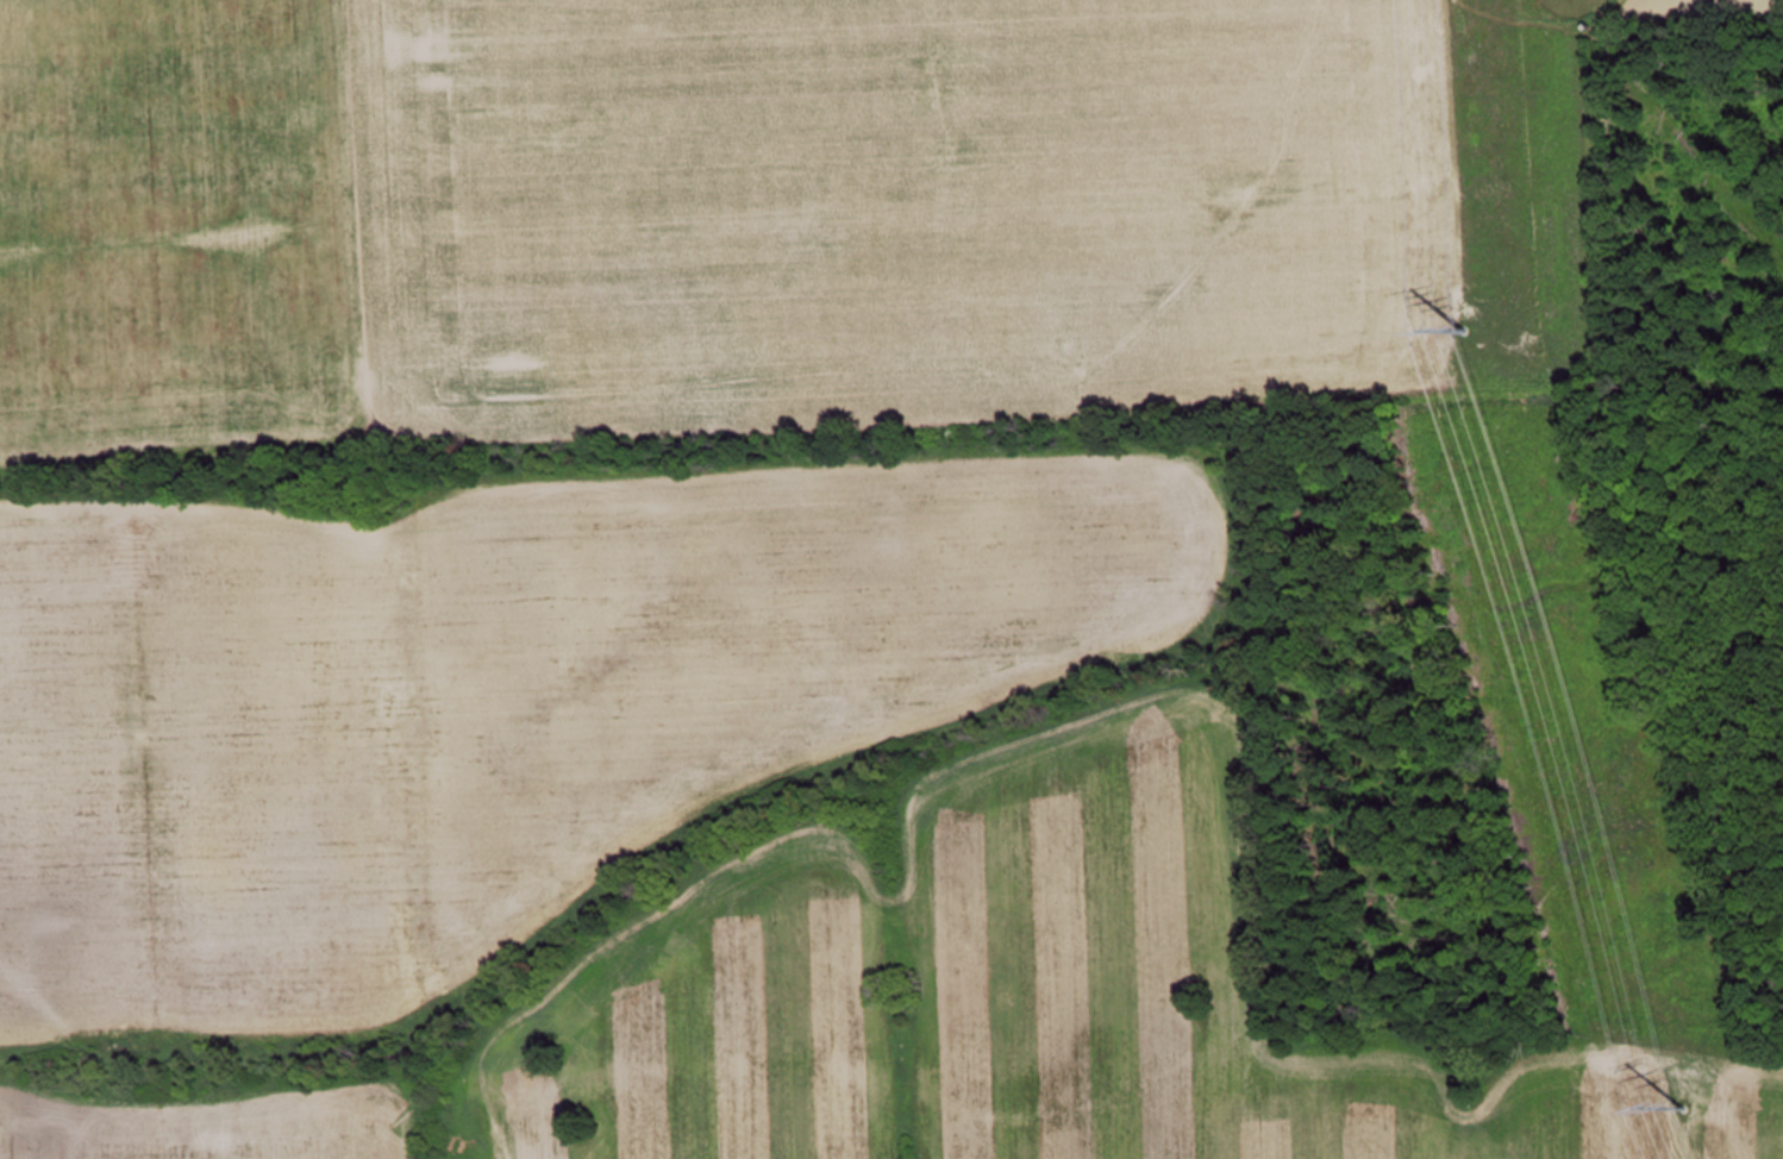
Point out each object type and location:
power tower: (1457, 331)
power tower: (1690, 1111)

